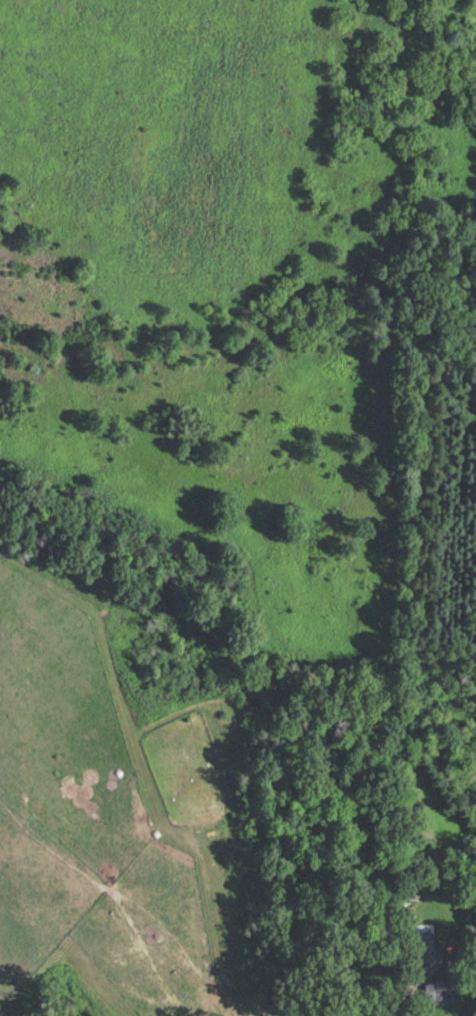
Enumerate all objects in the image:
building: (423, 945)
building: (443, 991)
road: (412, 1007)

